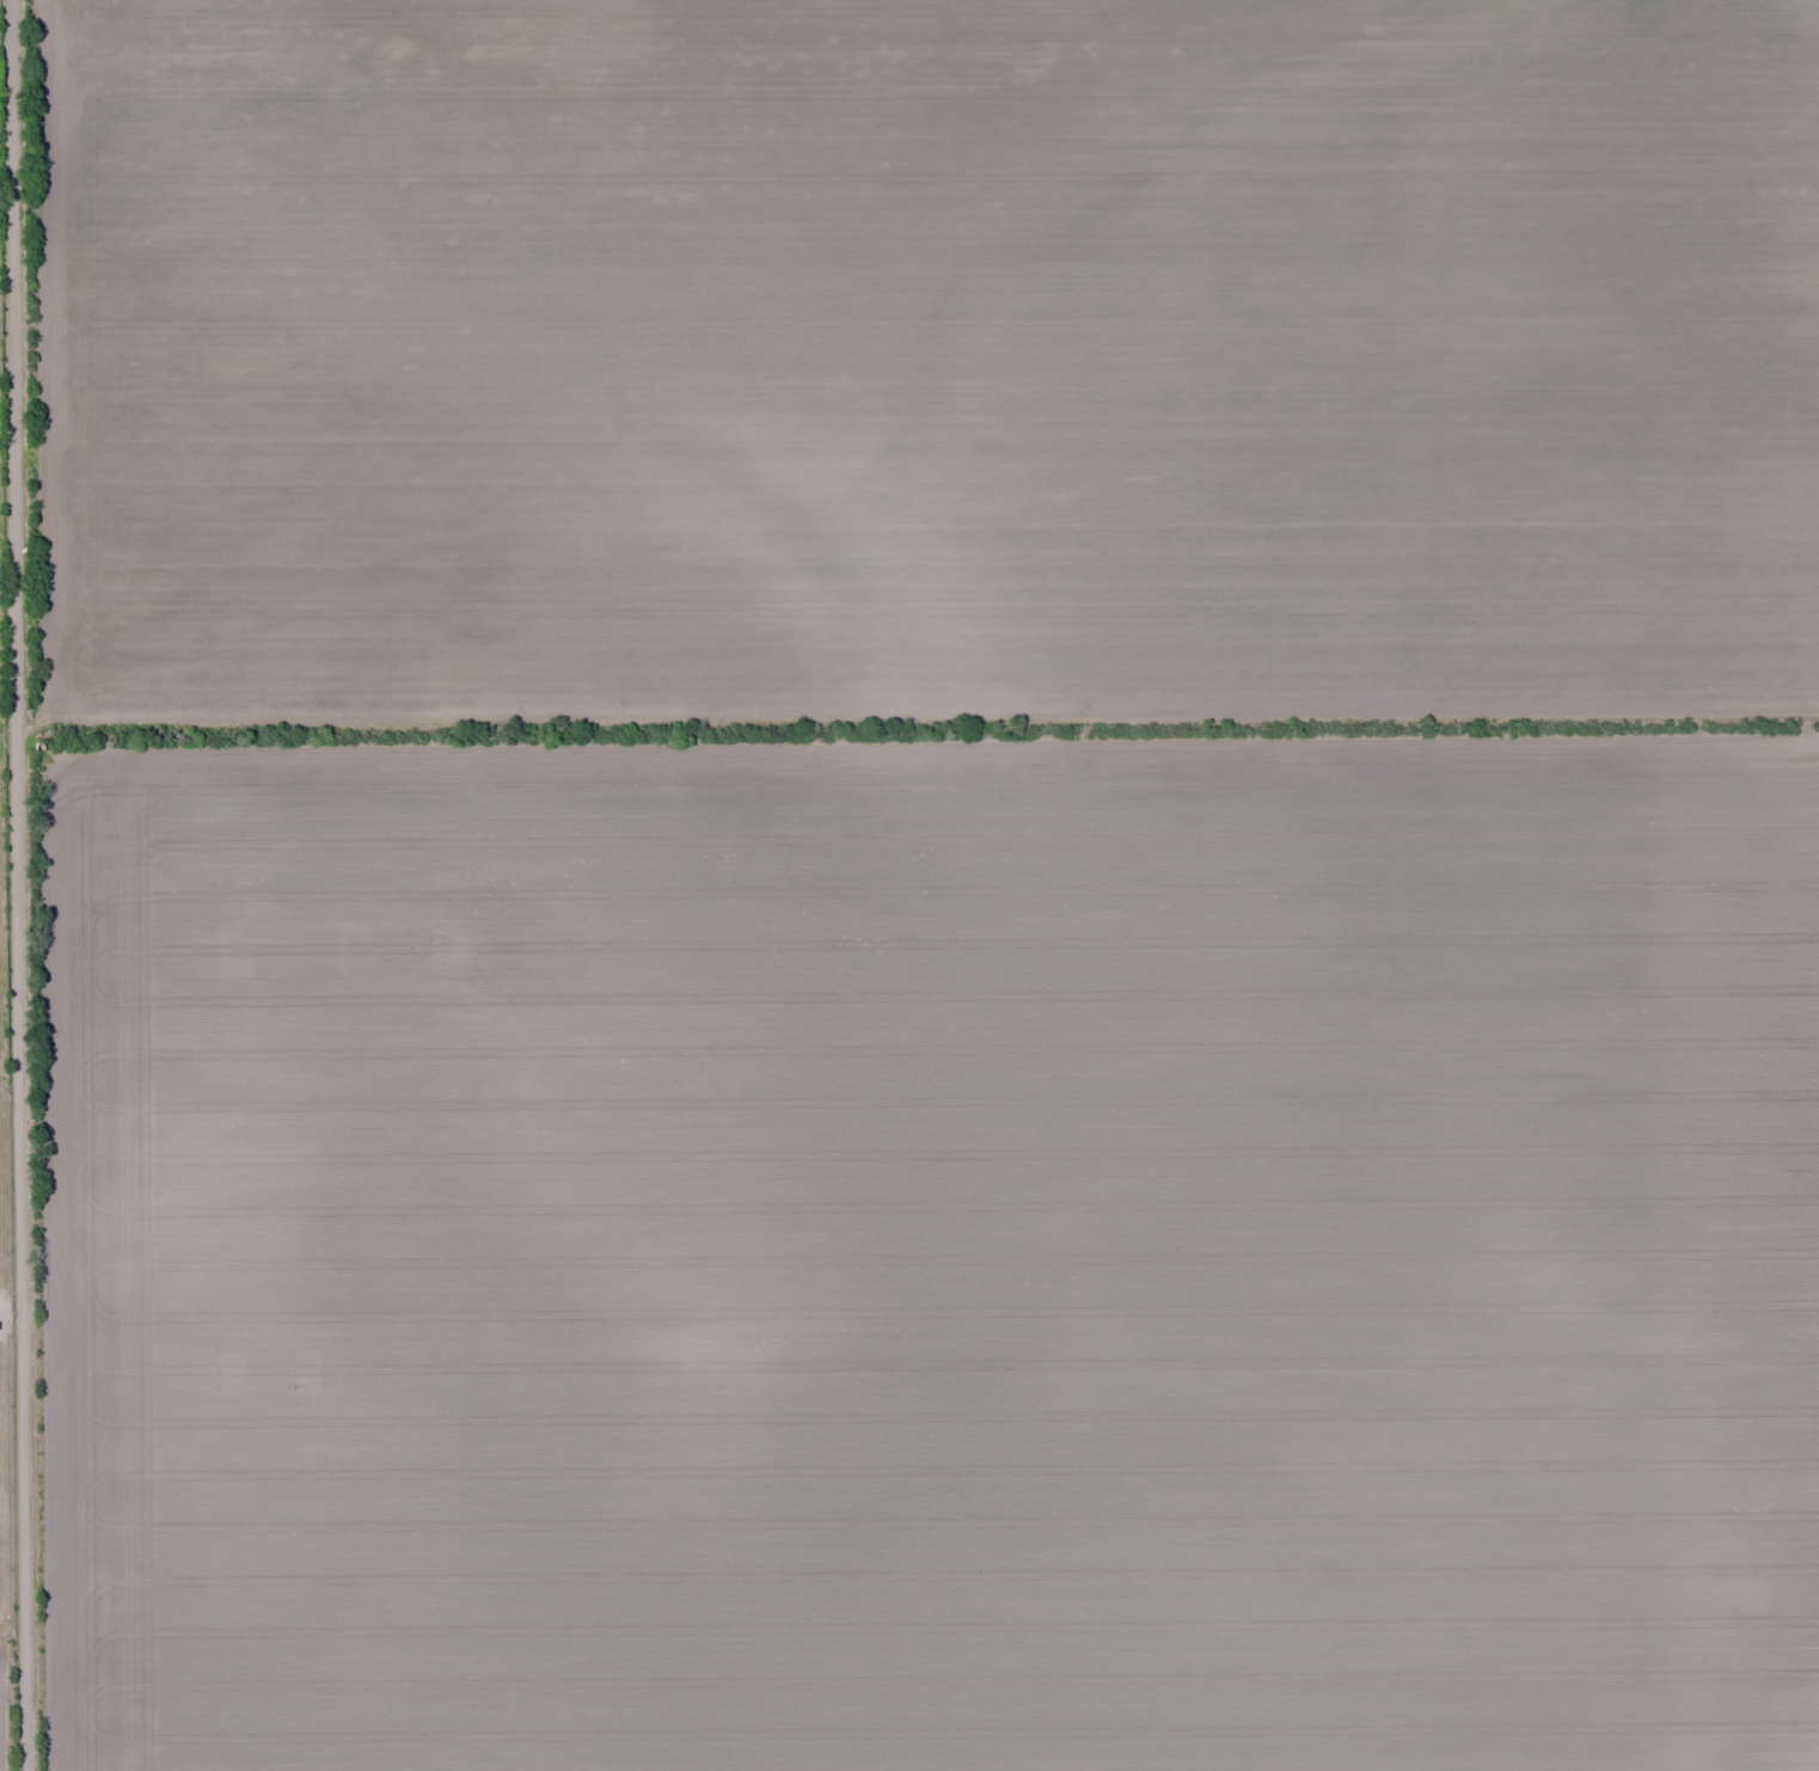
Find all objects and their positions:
road: (16, 885)
airport: (5, 966)

